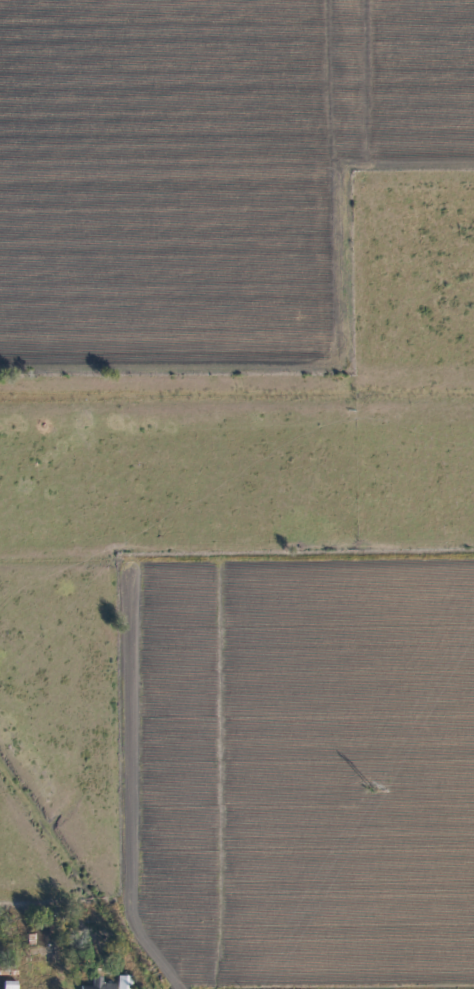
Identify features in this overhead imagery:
power tower: (370, 790)
building: (101, 986)

